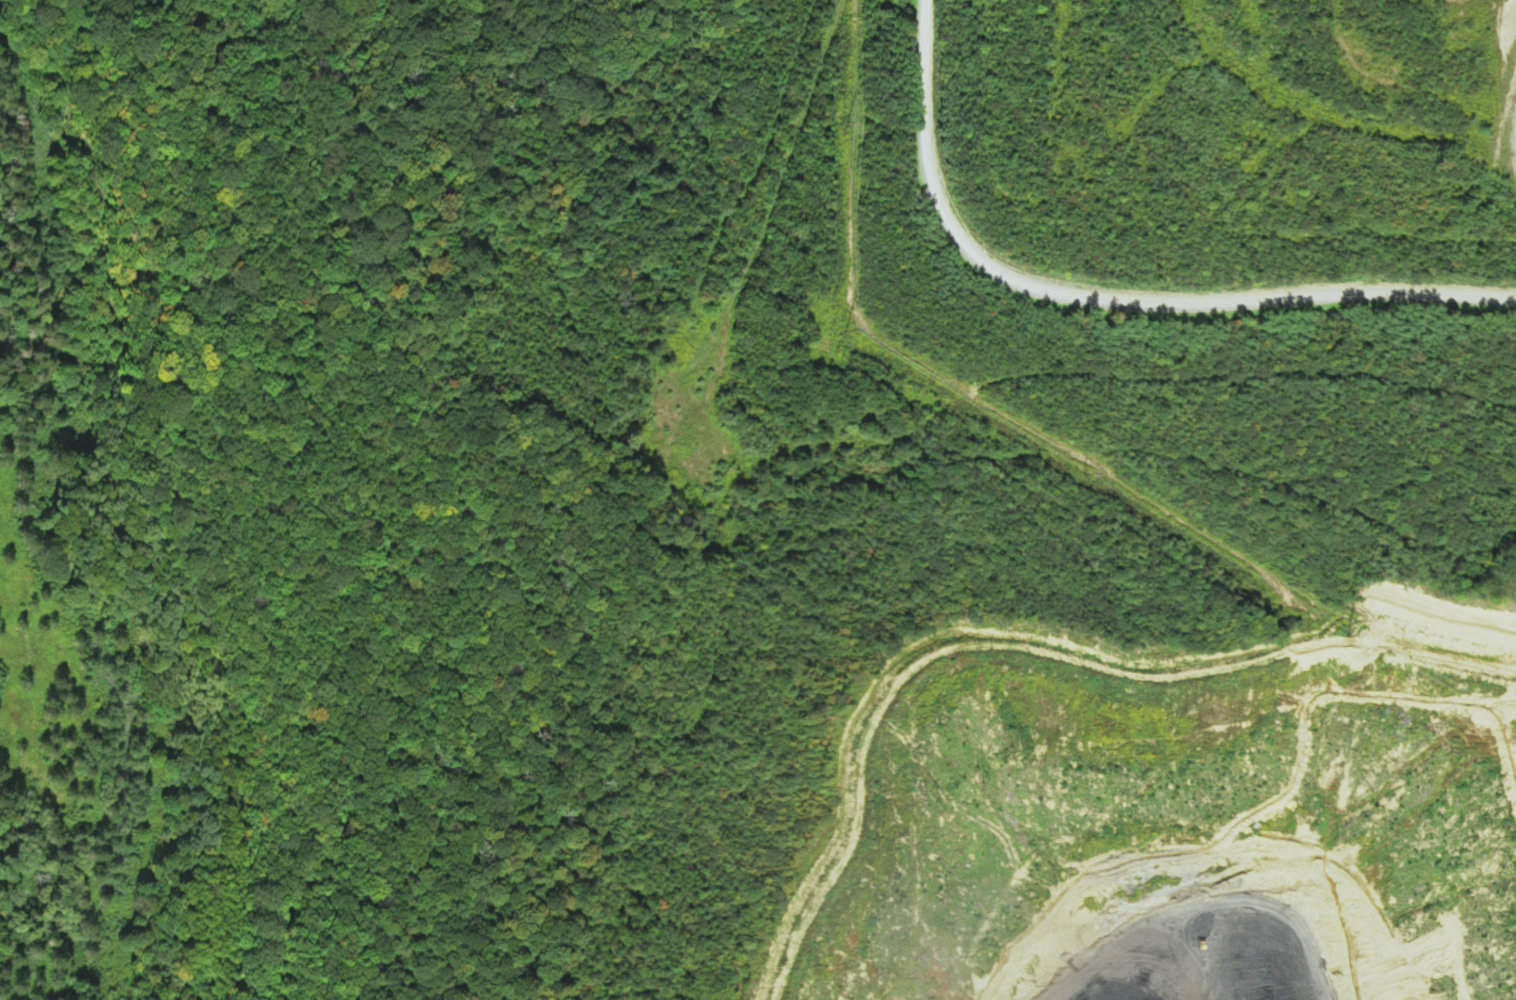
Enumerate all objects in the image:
road: (1103, 333)

